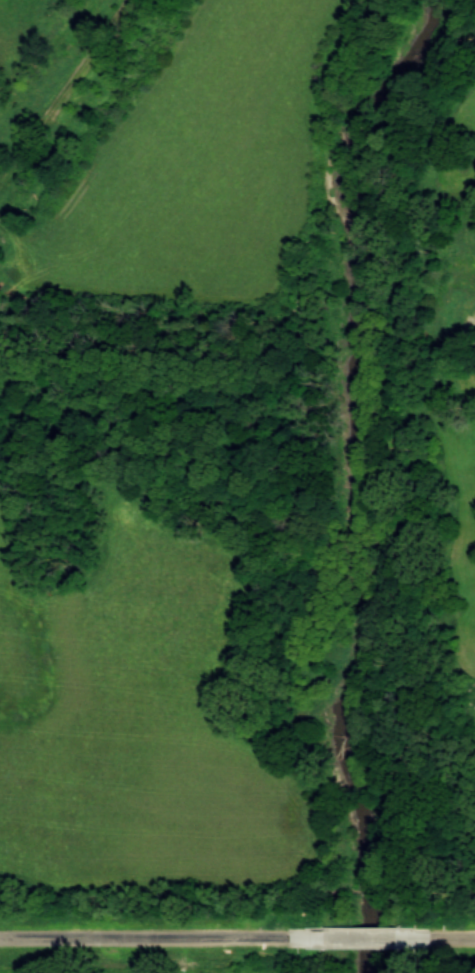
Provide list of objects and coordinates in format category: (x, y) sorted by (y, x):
road: (237, 938)

